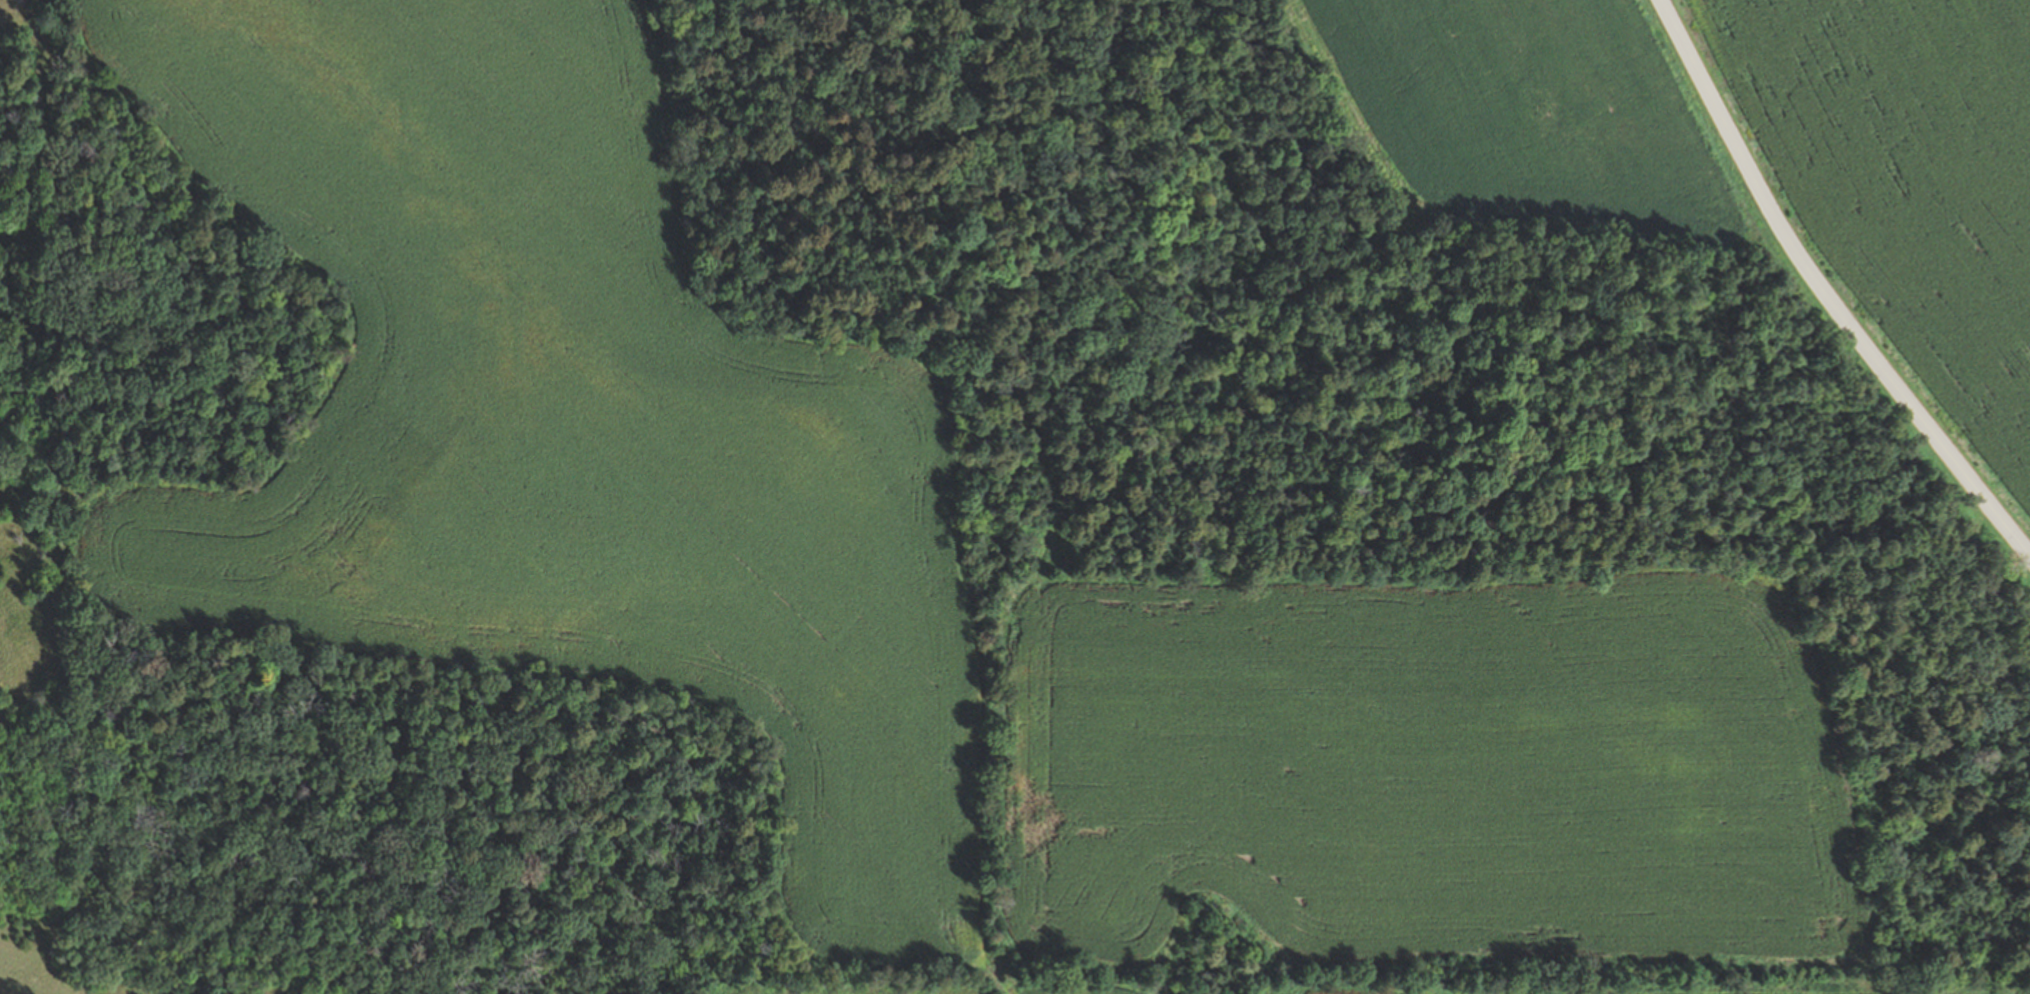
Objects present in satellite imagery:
road: (1823, 293)

